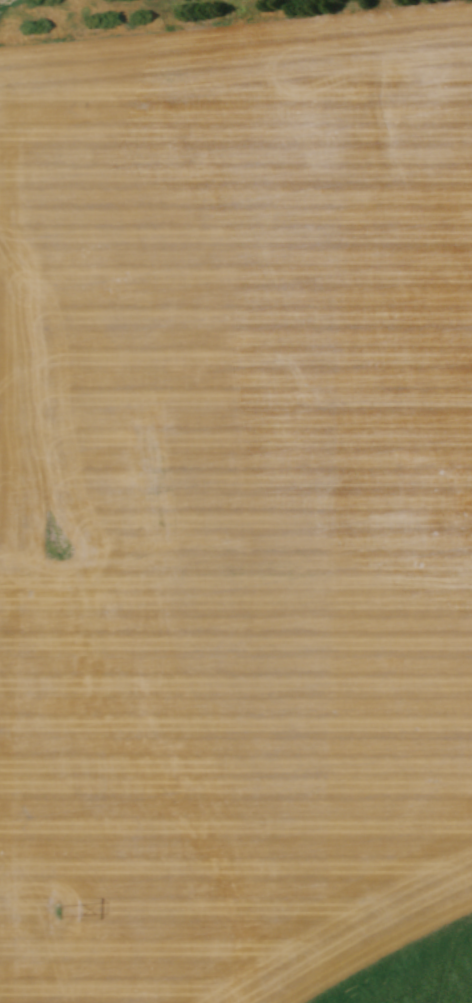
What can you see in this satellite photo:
power tower: (54, 913)

